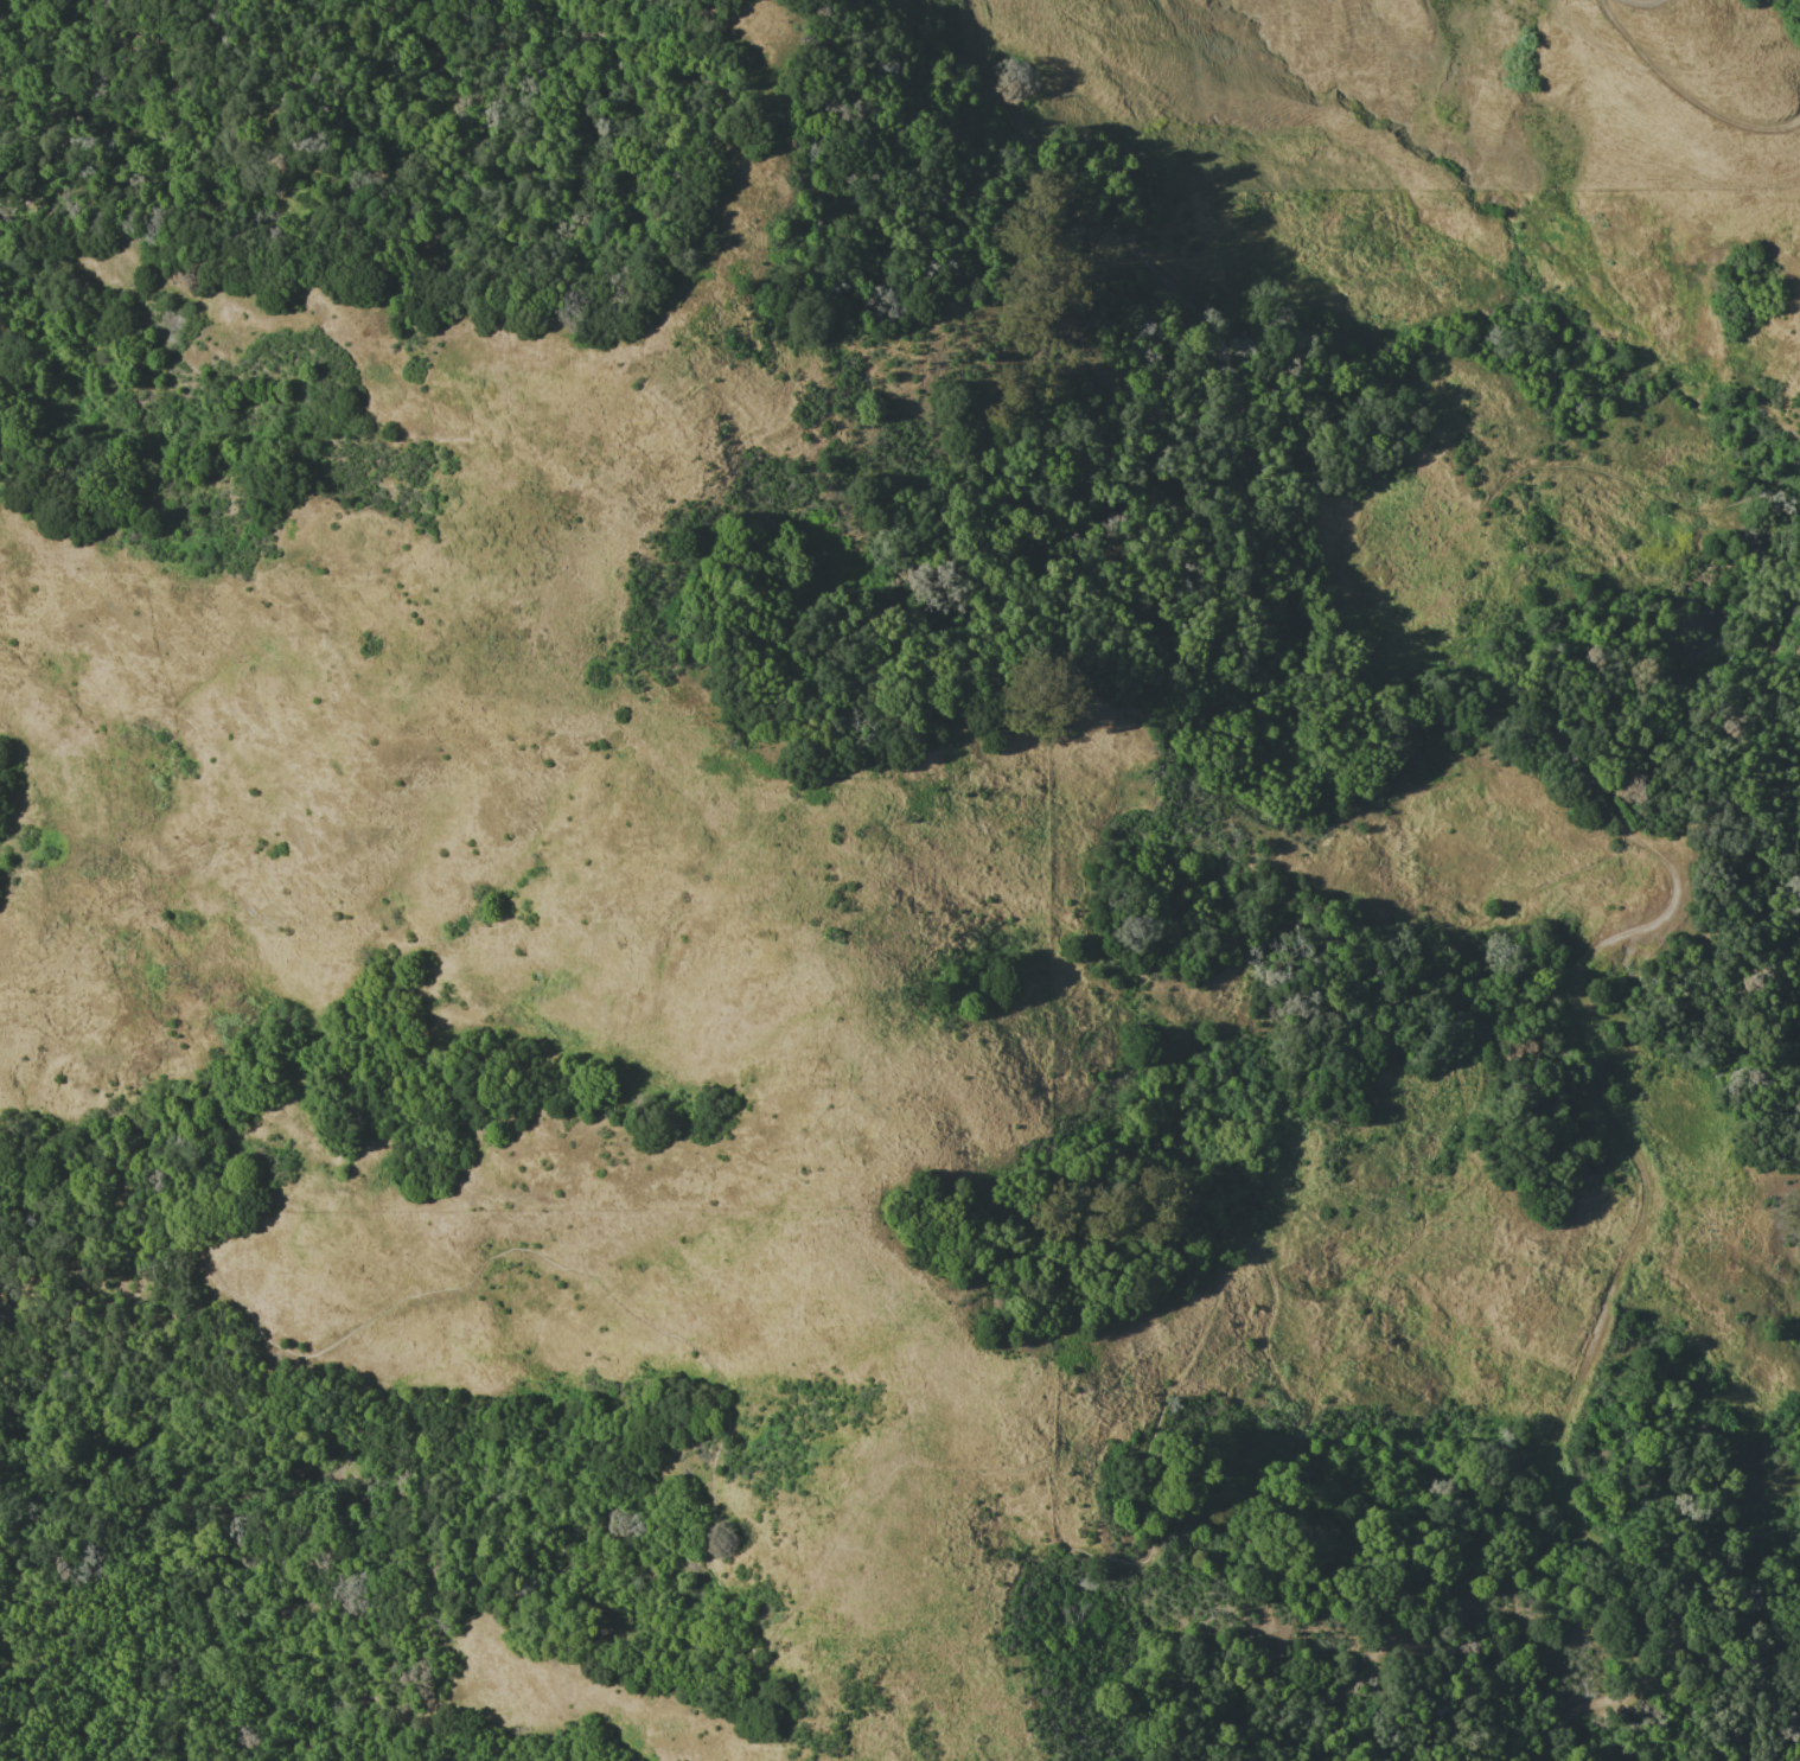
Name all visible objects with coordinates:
road: (1653, 1)
road: (1685, 88)
road: (1263, 439)
road: (1194, 1338)

